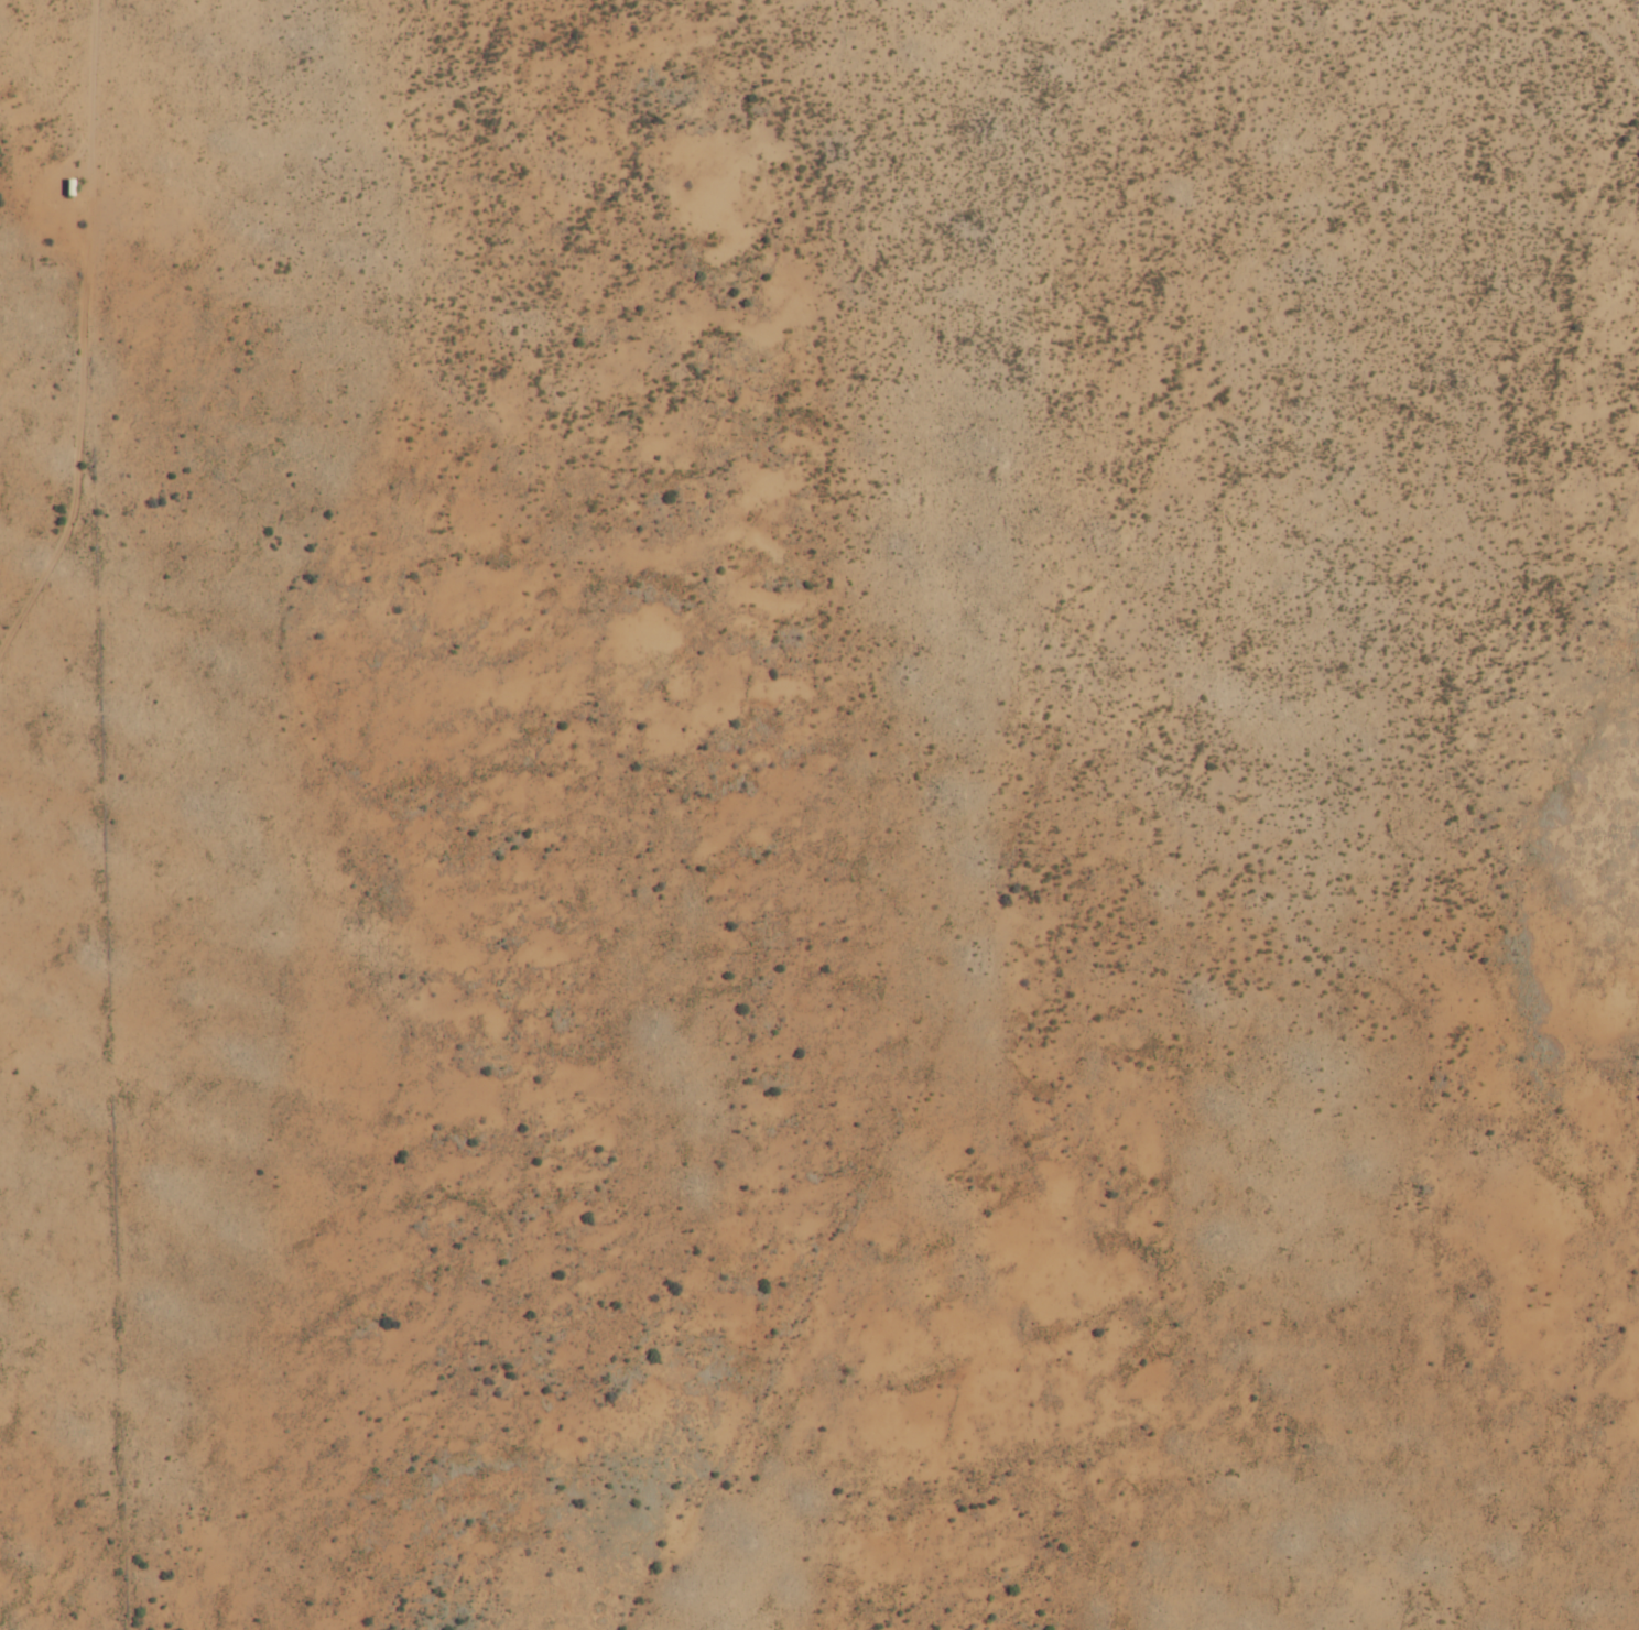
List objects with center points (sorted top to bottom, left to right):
road: (1591, 80)
road: (128, 333)
road: (1018, 825)

